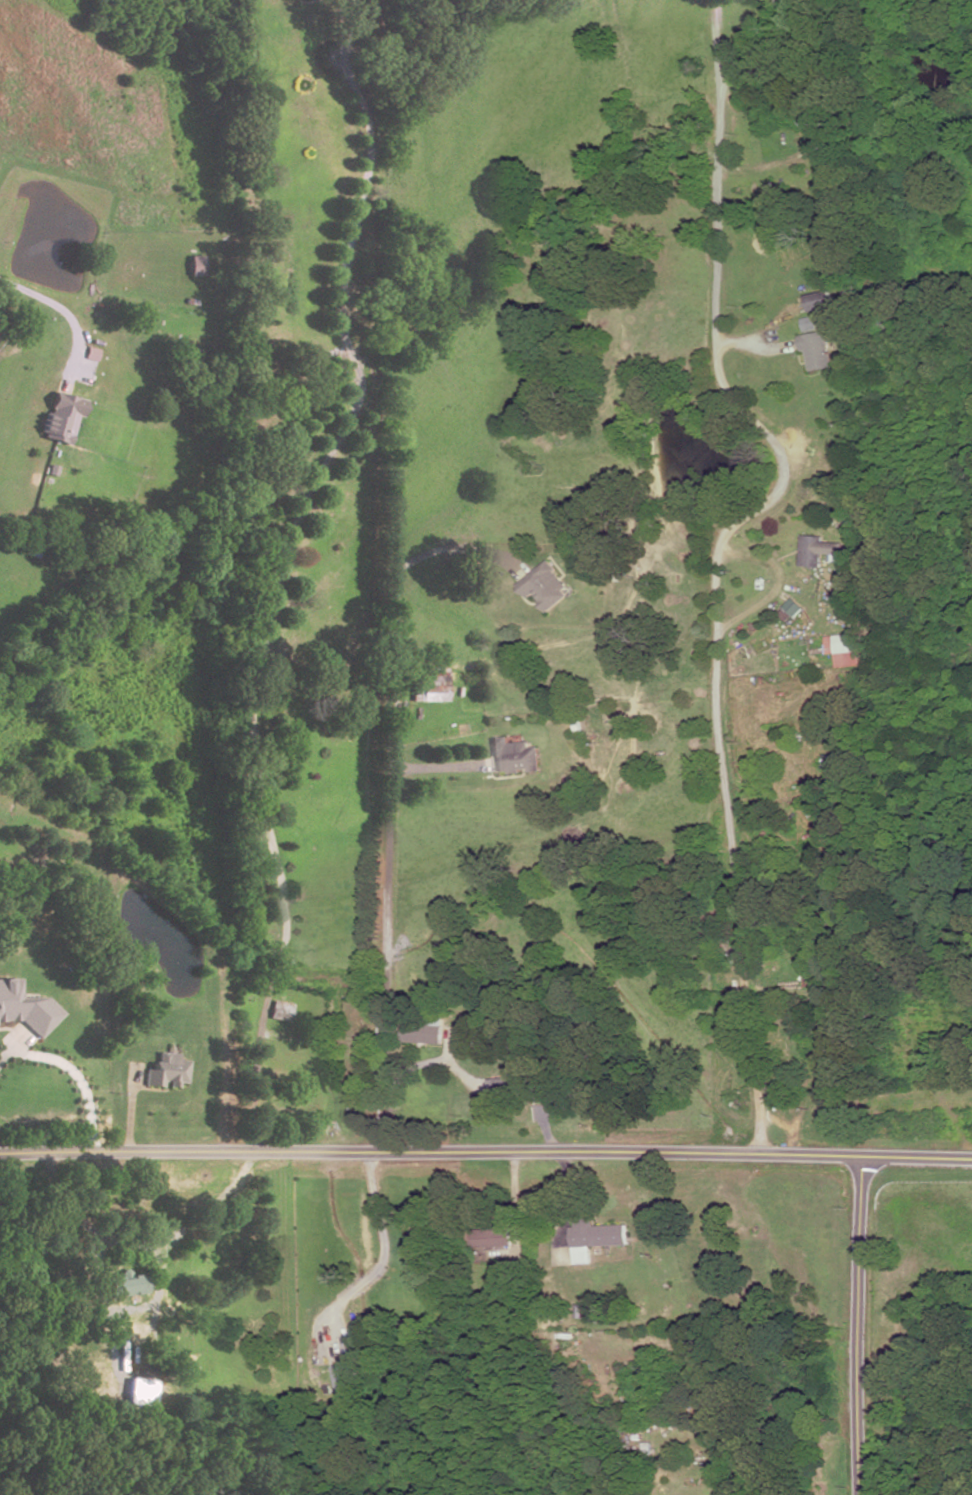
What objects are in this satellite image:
road: (308, 2)
road: (743, 50)
road: (772, 164)
building: (196, 265)
building: (821, 282)
building: (818, 301)
road: (67, 318)
building: (808, 323)
road: (742, 342)
building: (816, 350)
parking lot: (88, 365)
building: (60, 420)
building: (849, 501)
building: (810, 550)
road: (718, 553)
road: (281, 567)
building: (545, 587)
road: (777, 587)
road: (391, 604)
building: (791, 608)
building: (845, 648)
building: (428, 686)
building: (513, 756)
road: (438, 768)
road: (223, 928)
road: (386, 961)
building: (810, 971)
building: (25, 1009)
building: (281, 1012)
building: (830, 1026)
building: (424, 1032)
building: (129, 1033)
road: (422, 1063)
building: (167, 1071)
road: (75, 1073)
building: (513, 1083)
road: (801, 1101)
road: (132, 1112)
road: (545, 1128)
road: (486, 1153)
road: (565, 1186)
road: (514, 1207)
road: (86, 1223)
road: (196, 1225)
building: (597, 1233)
building: (491, 1237)
road: (382, 1265)
building: (300, 1273)
building: (516, 1276)
building: (126, 1287)
road: (292, 1321)
road: (860, 1326)
building: (148, 1371)
building: (343, 1379)
building: (142, 1391)

